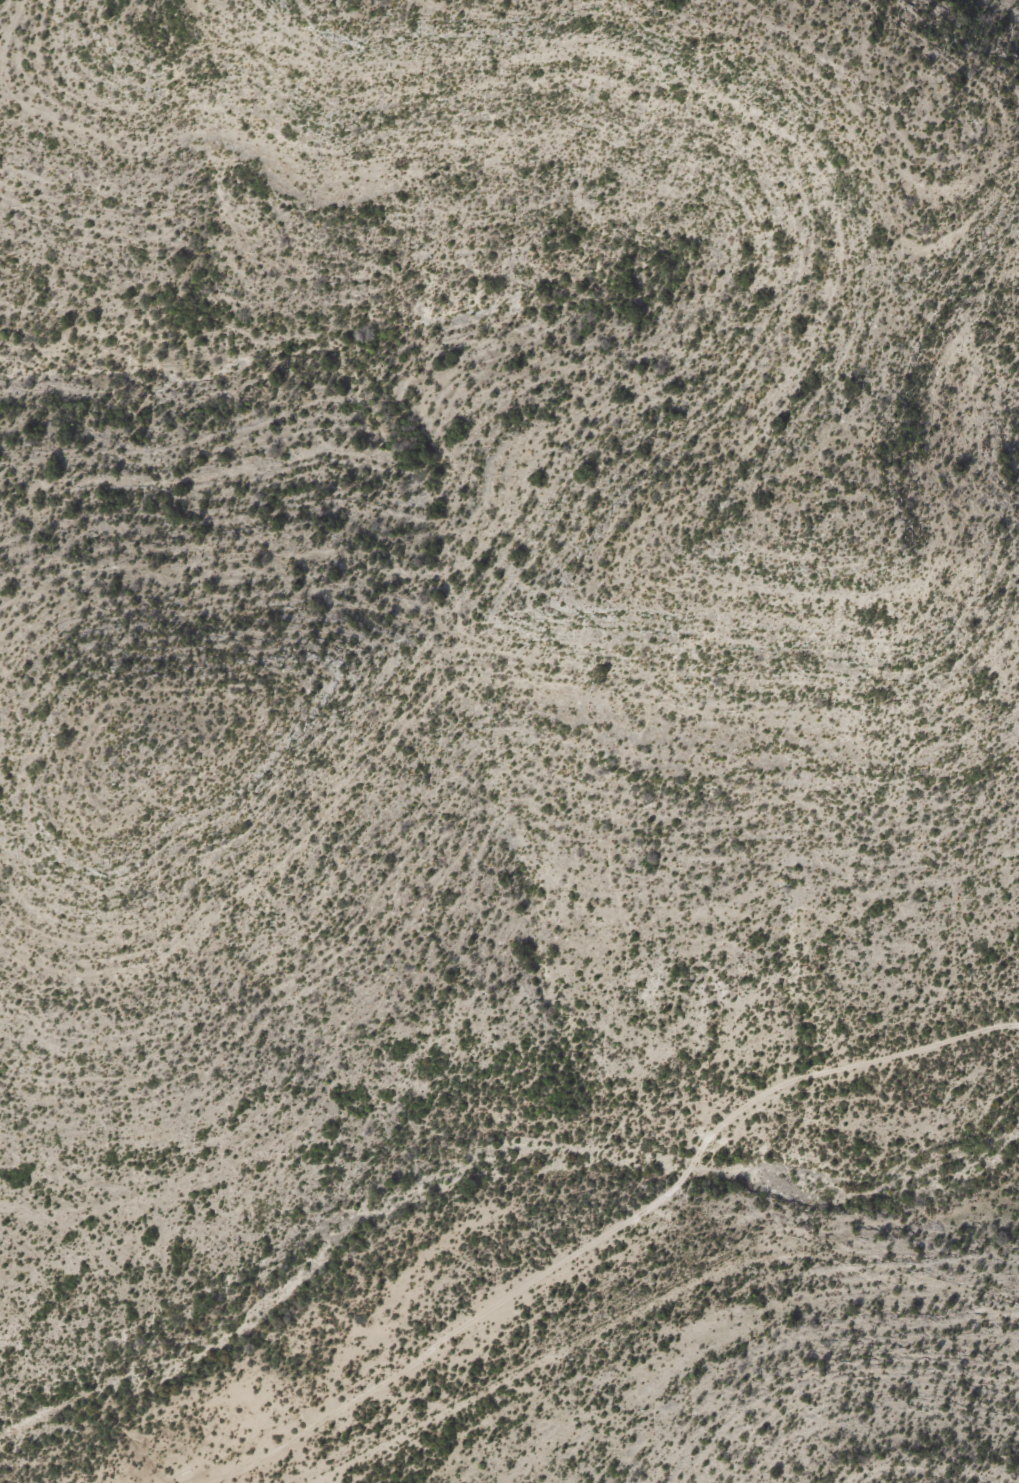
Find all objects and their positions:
road: (610, 1236)

